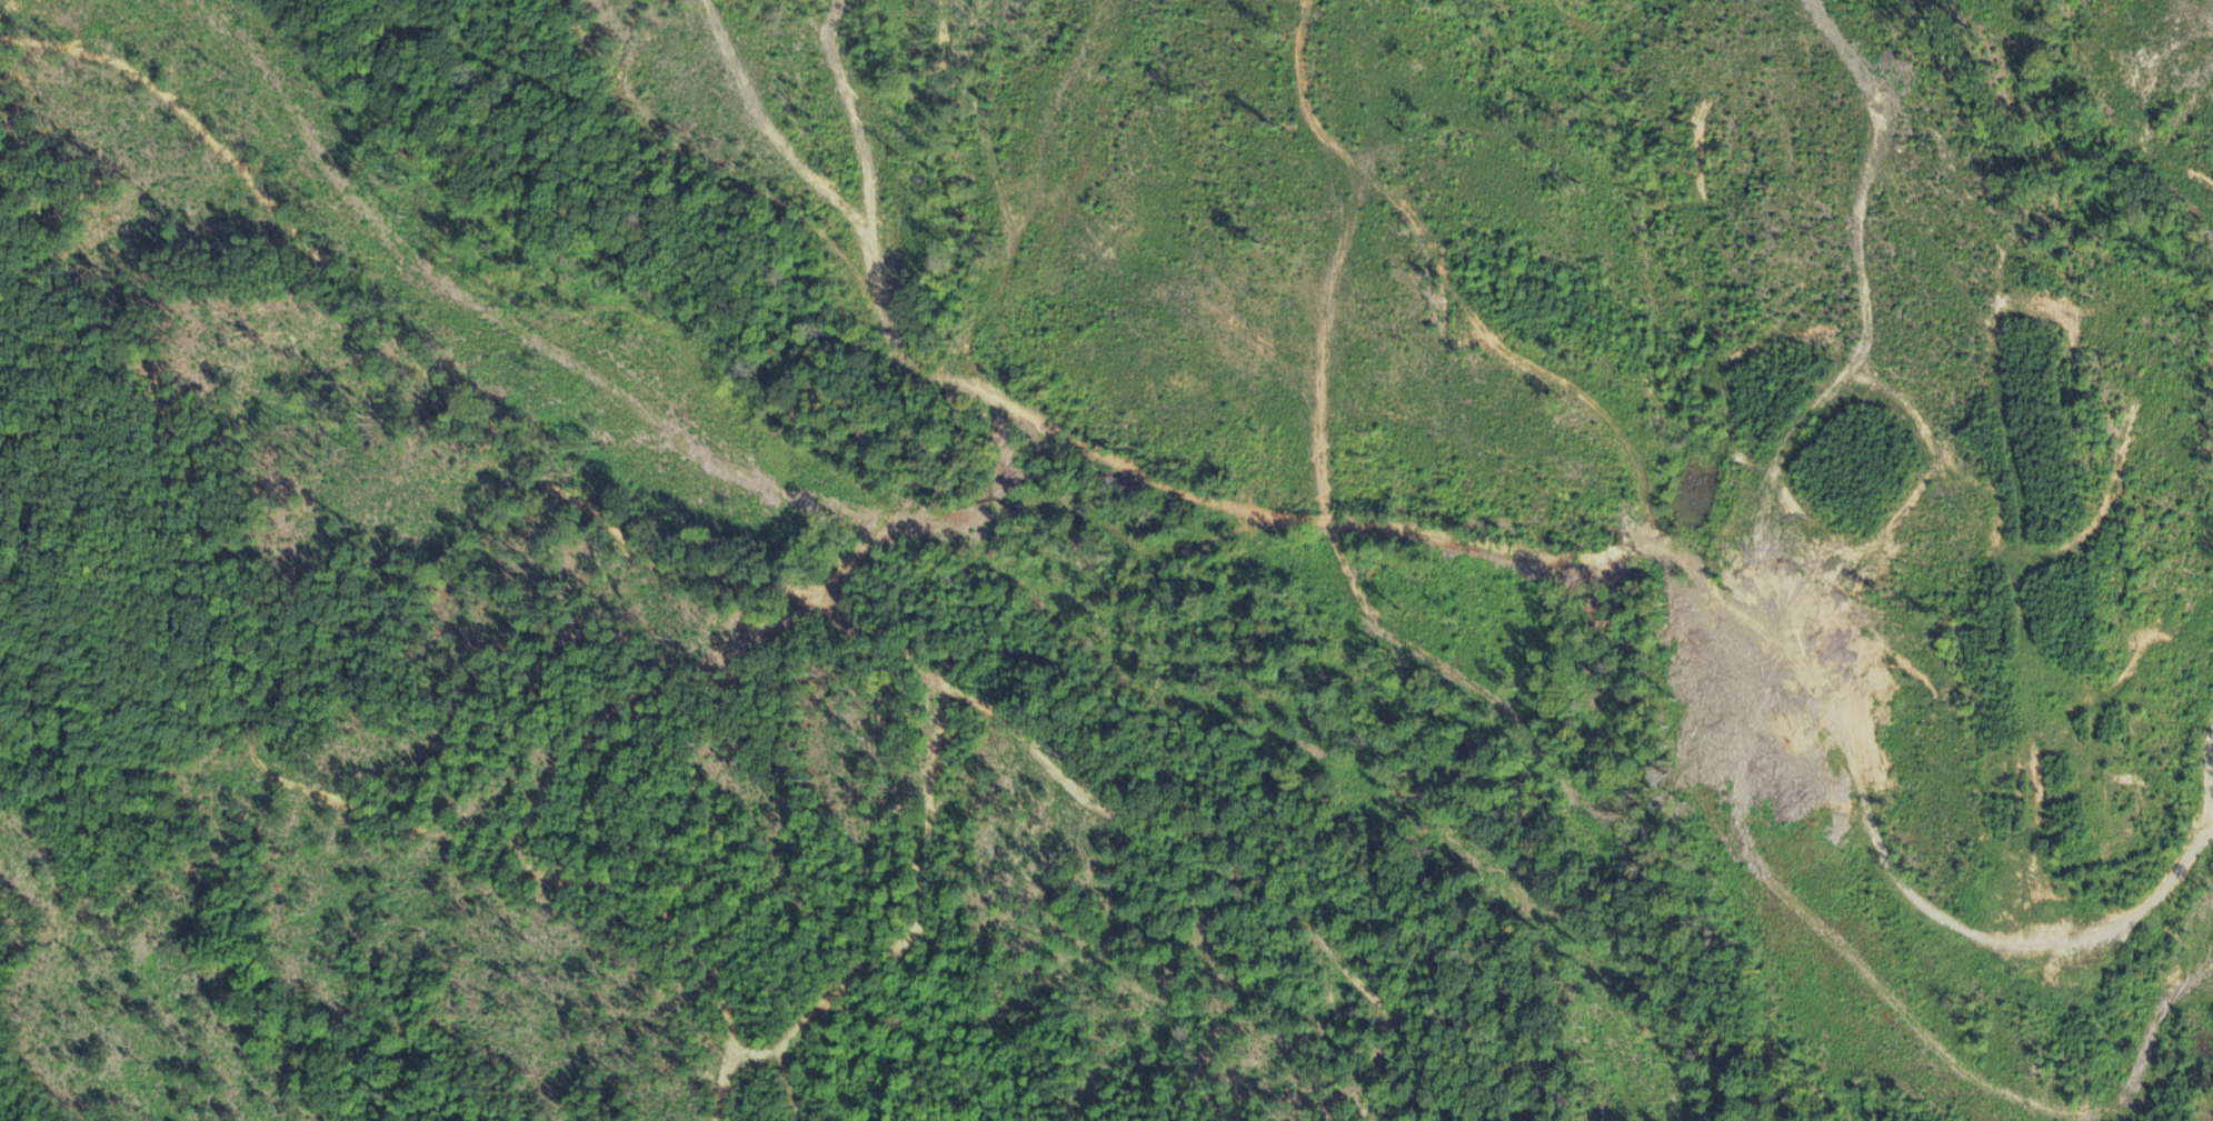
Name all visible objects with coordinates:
road: (2205, 775)

